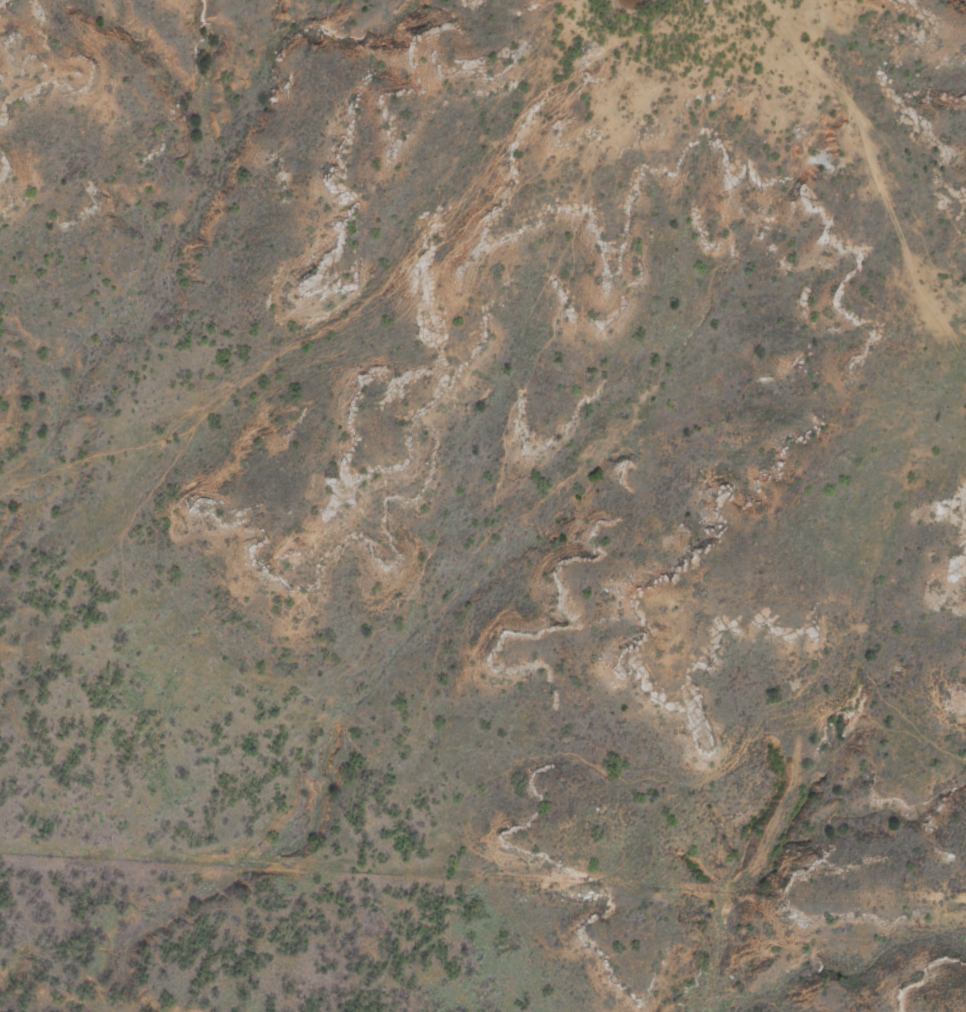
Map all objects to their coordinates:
road: (879, 165)

